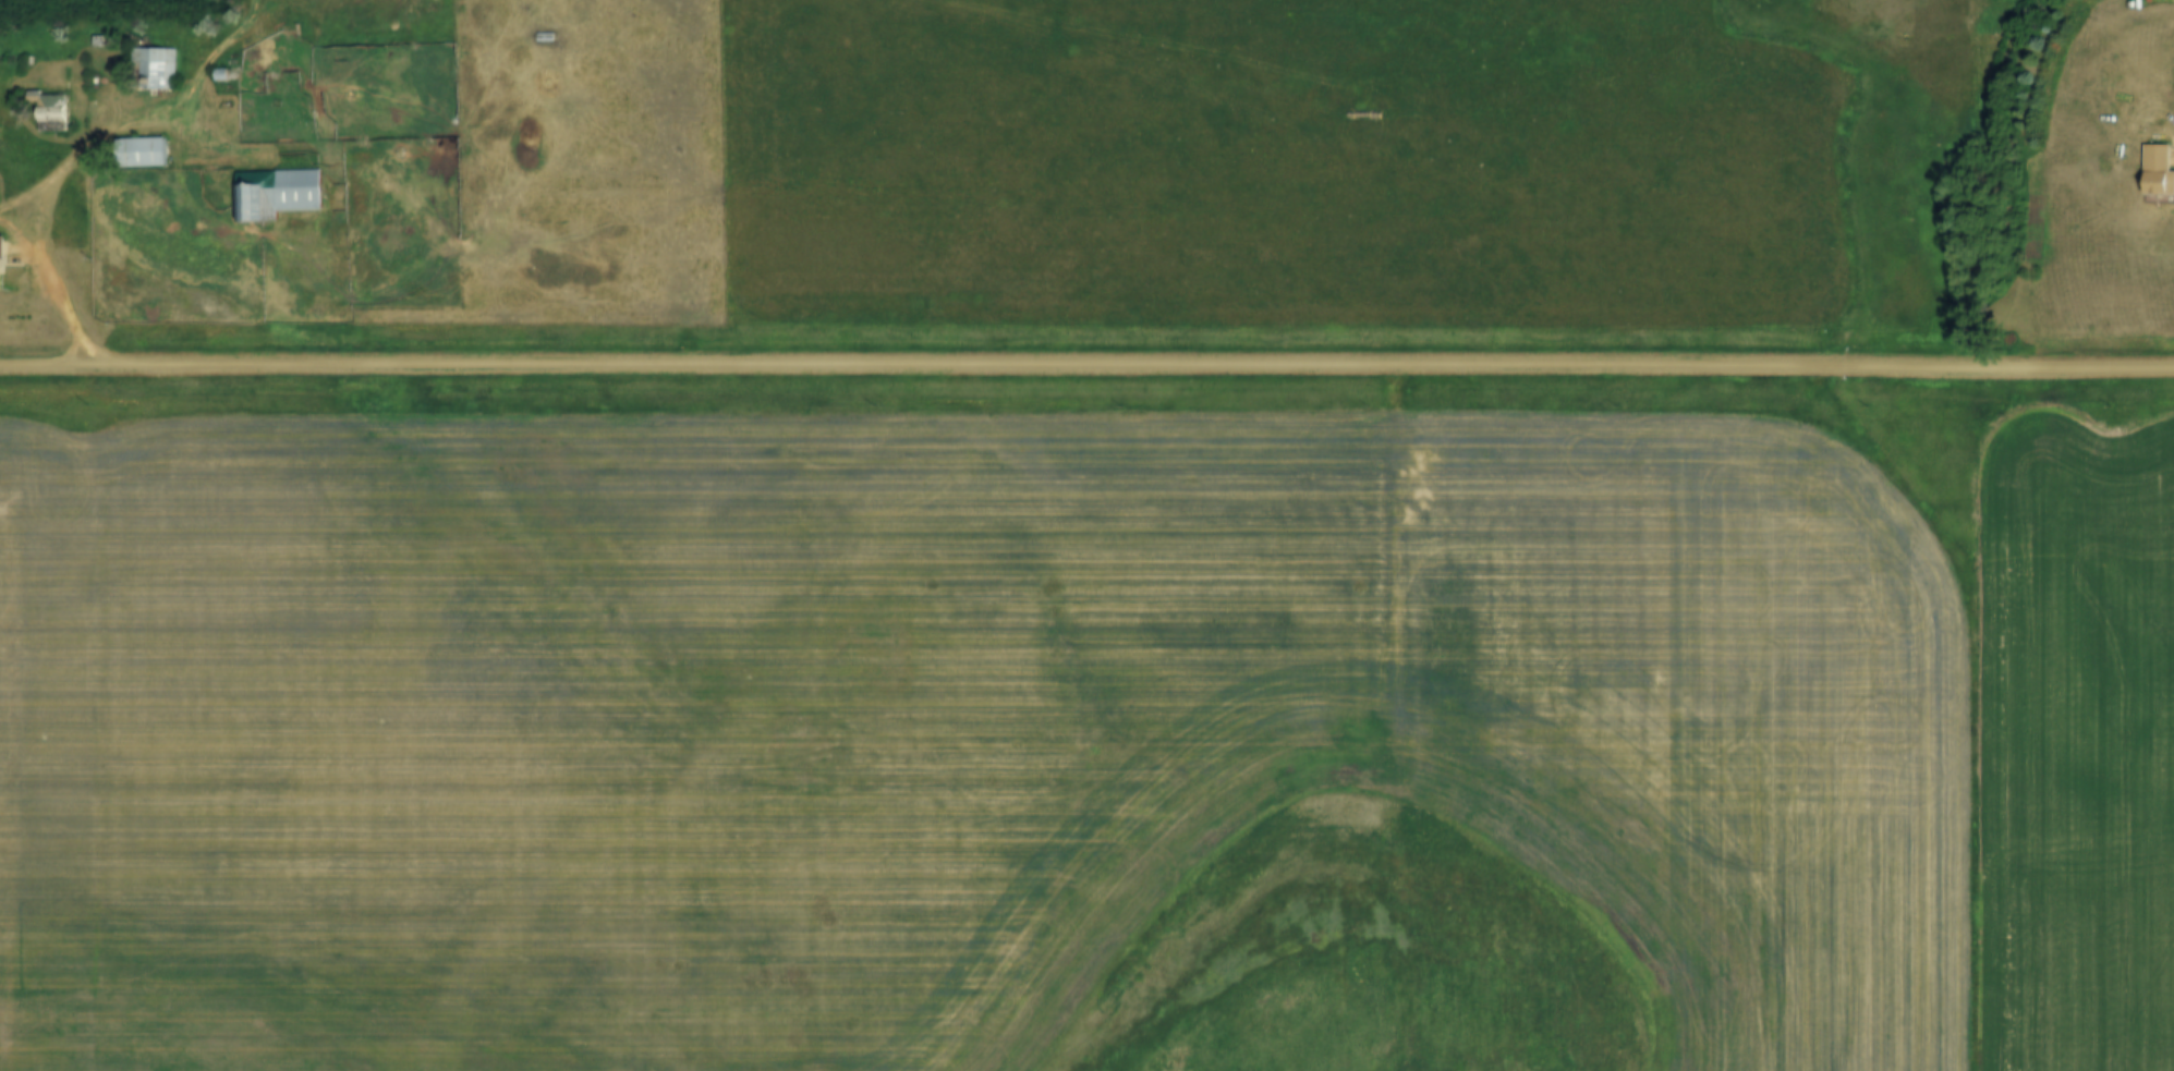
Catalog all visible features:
building: (154, 68)
building: (49, 109)
road: (193, 109)
road: (88, 139)
building: (141, 150)
building: (2158, 171)
building: (276, 193)
building: (0, 260)
road: (53, 282)
road: (1086, 365)

